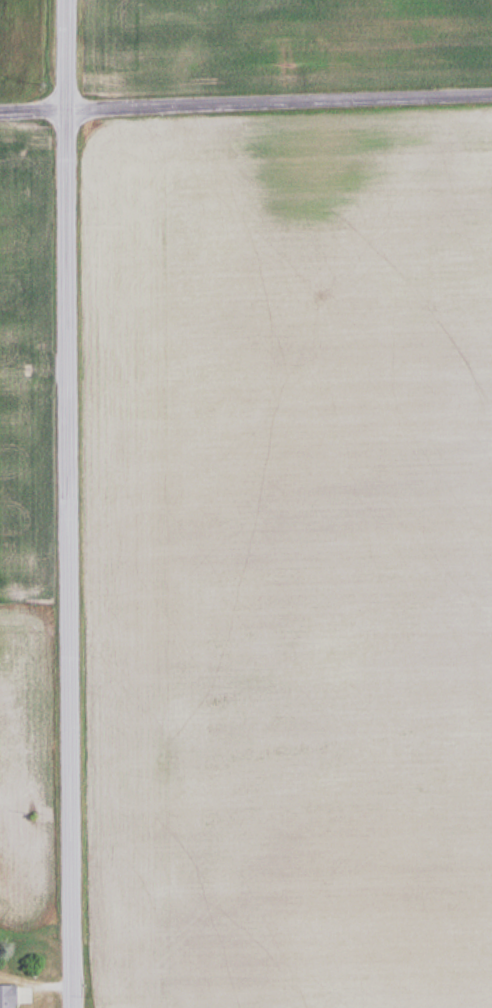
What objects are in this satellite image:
road: (245, 104)
road: (68, 503)
building: (6, 997)

